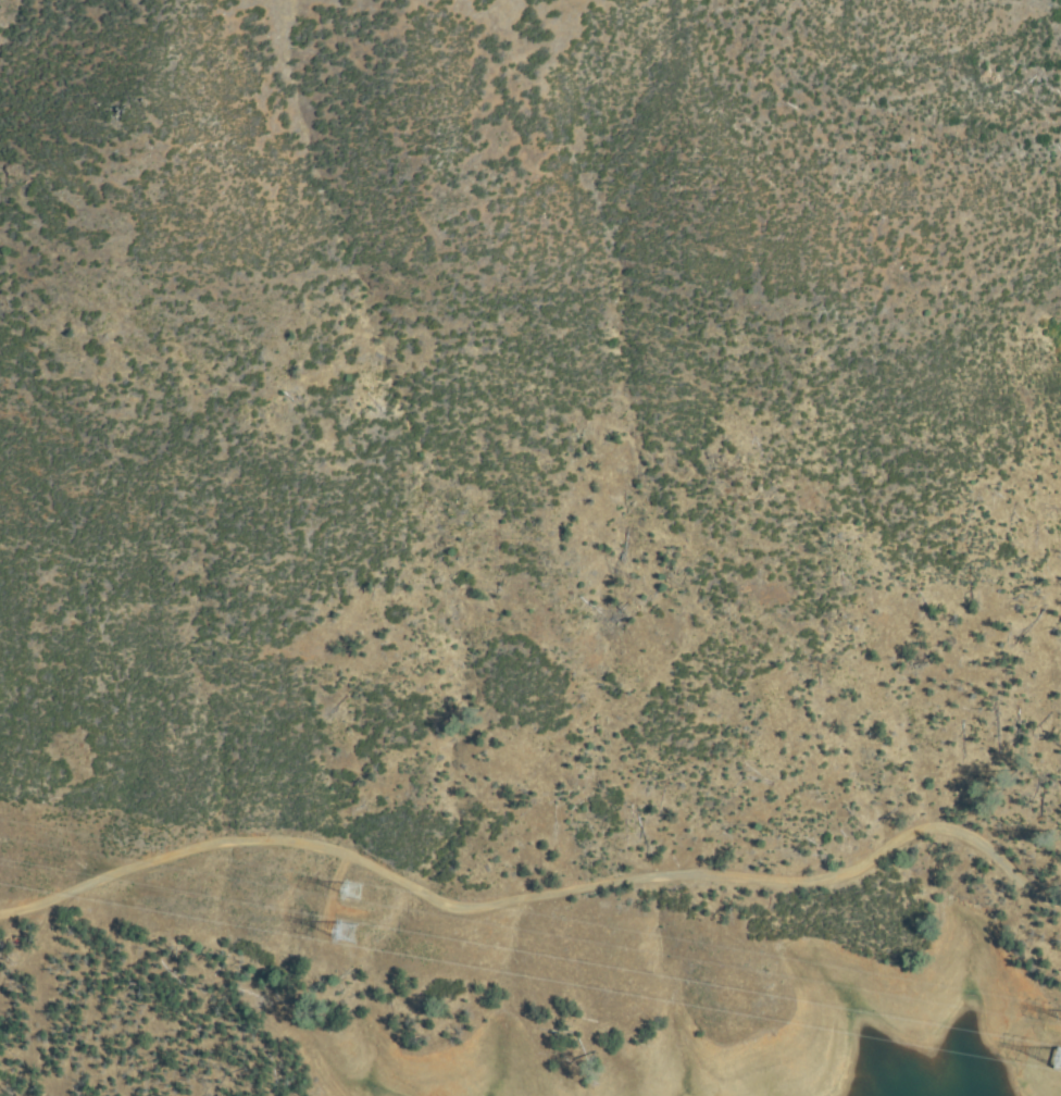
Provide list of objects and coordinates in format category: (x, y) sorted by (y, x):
power tower: (352, 890)
road: (537, 894)
power tower: (346, 932)

